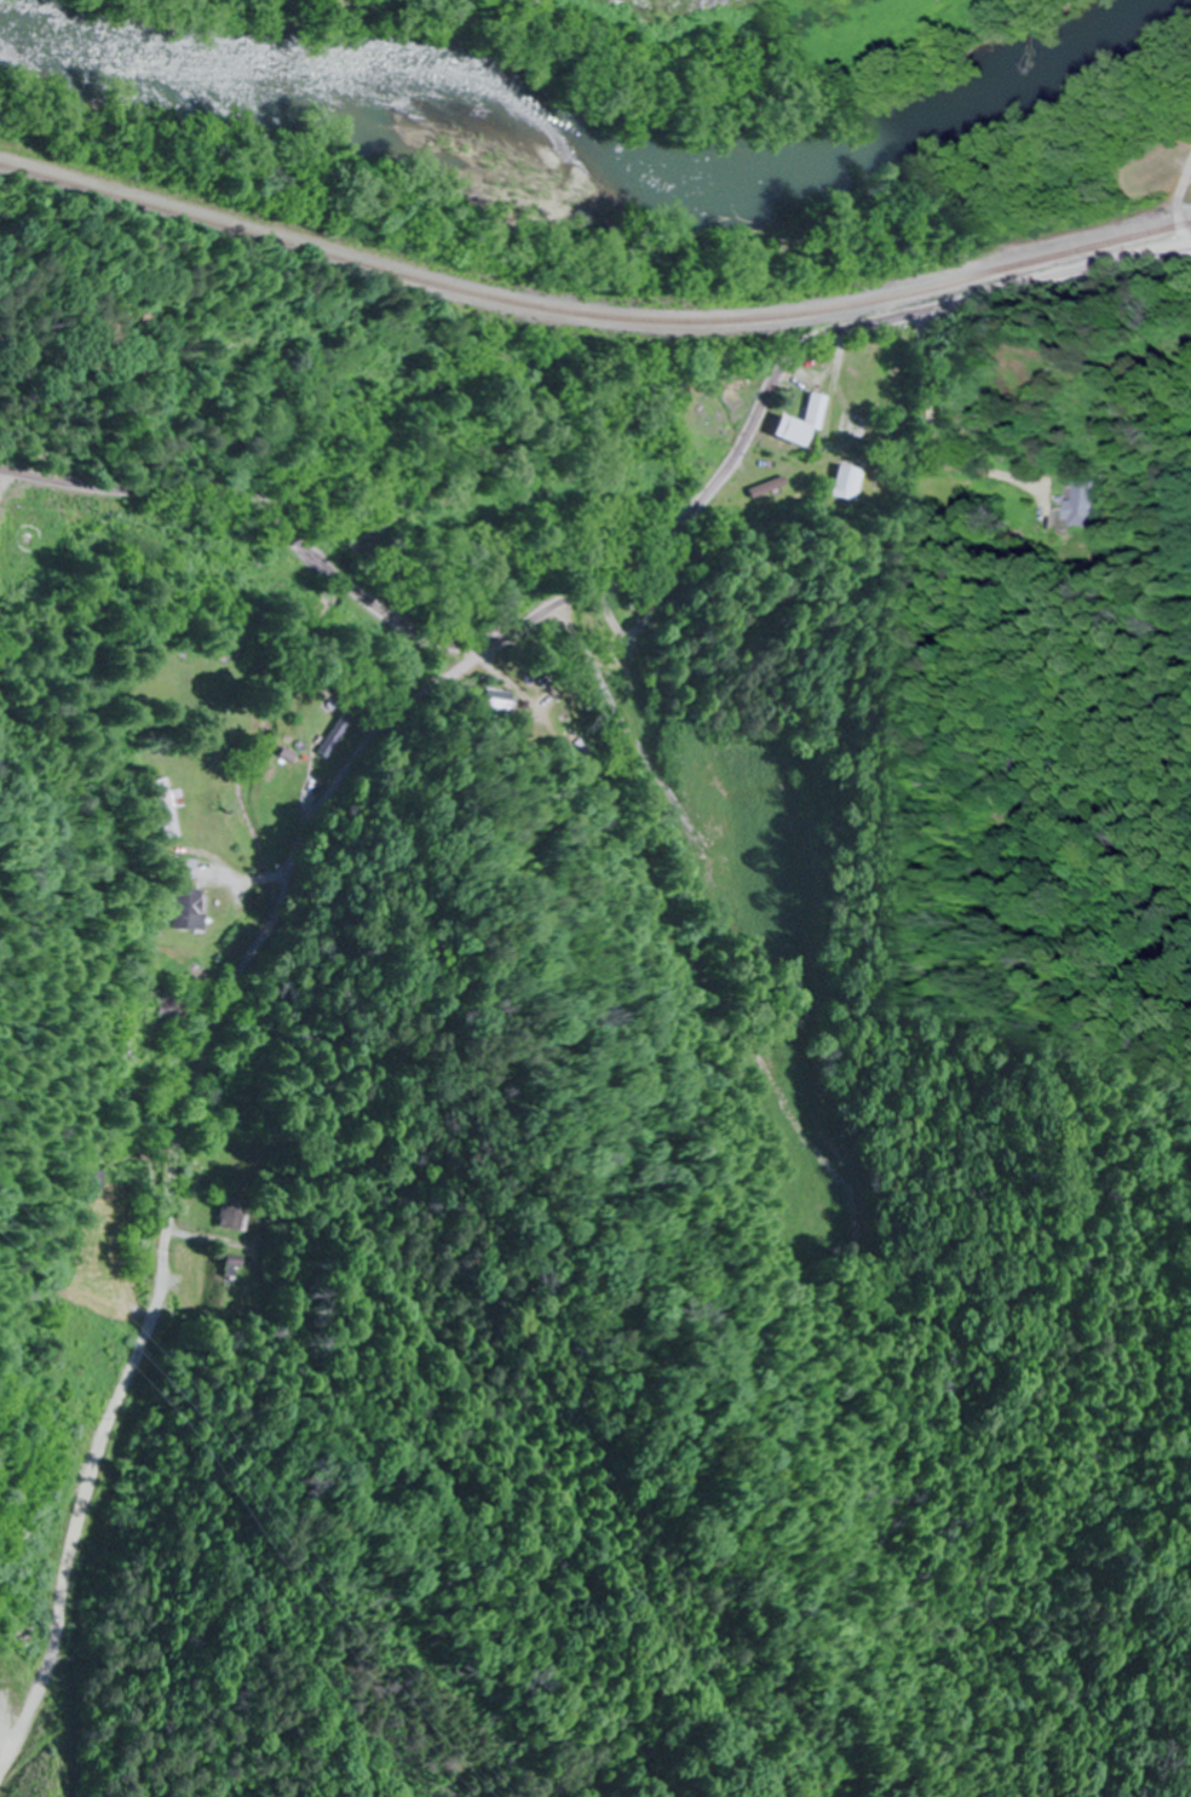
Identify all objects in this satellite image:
river: (576, 168)
road: (1185, 211)
railway: (592, 316)
road: (988, 385)
building: (794, 424)
road: (332, 435)
road: (263, 496)
building: (1087, 504)
road: (338, 791)
building: (191, 914)
building: (185, 970)
building: (230, 1213)
building: (229, 1267)

